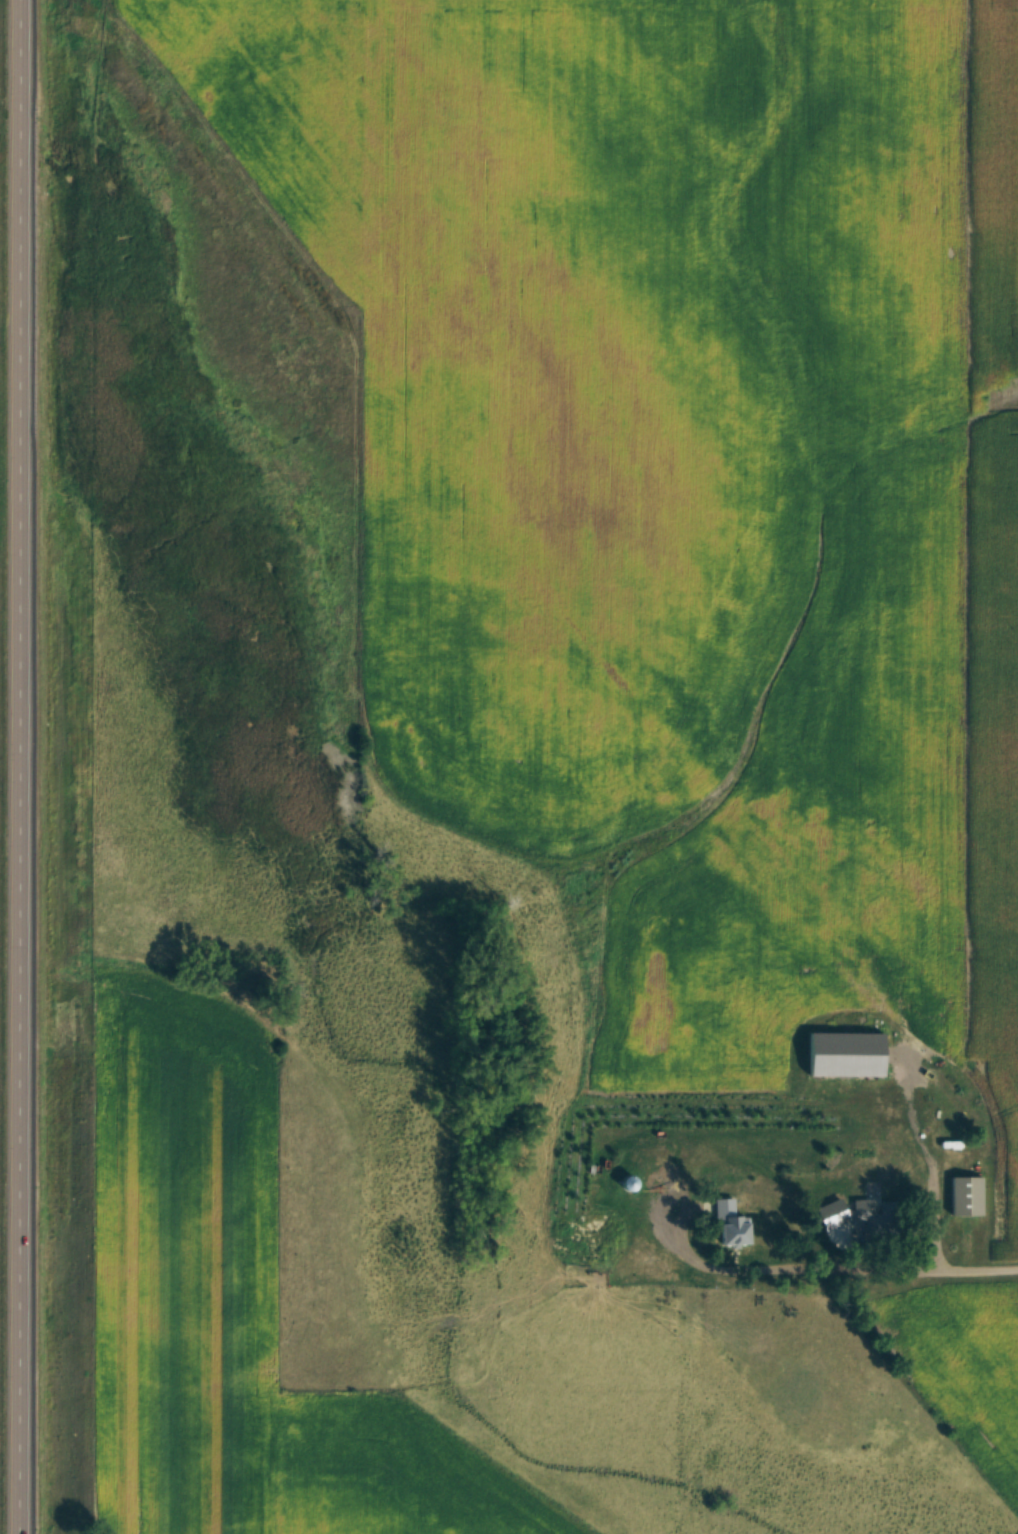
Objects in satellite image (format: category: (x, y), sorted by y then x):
road: (14, 767)
building: (599, 1115)
building: (963, 1194)
building: (868, 1216)
building: (727, 1223)
building: (579, 1232)
road: (883, 1272)

